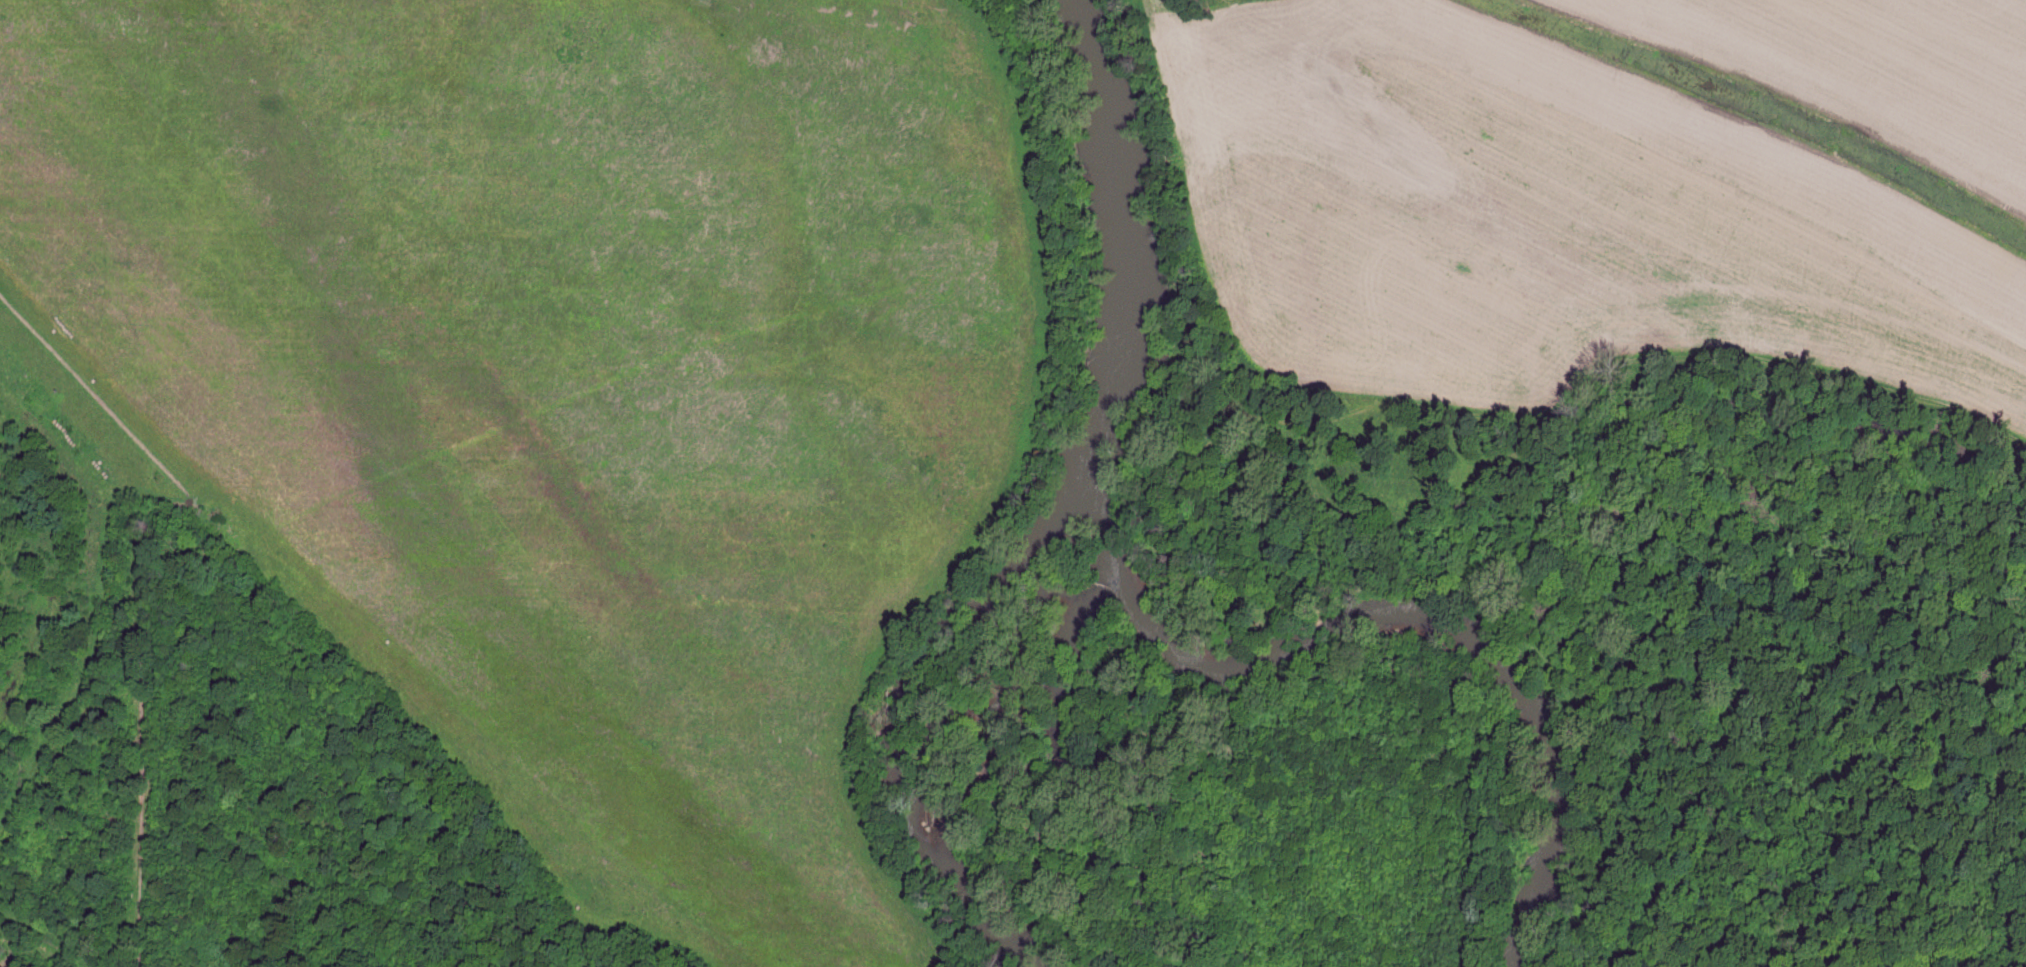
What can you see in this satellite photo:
river: (1167, 637)

